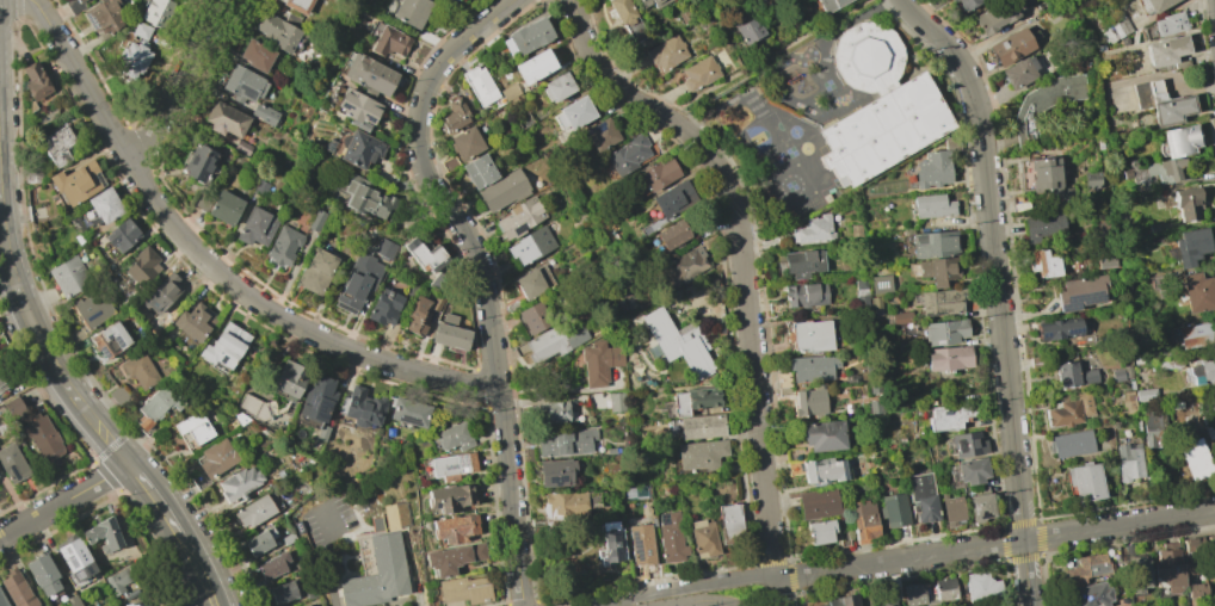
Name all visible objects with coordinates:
building: (449, 0)
building: (456, 0)
building: (78, 1)
building: (652, 2)
building: (968, 4)
building: (297, 5)
building: (829, 5)
building: (1152, 5)
building: (411, 11)
building: (156, 12)
building: (105, 16)
building: (994, 16)
rooftop solar panel: (91, 21)
building: (629, 21)
building: (1164, 26)
building: (746, 27)
building: (141, 30)
building: (1115, 30)
building: (276, 32)
building: (529, 36)
building: (388, 41)
building: (1010, 47)
road: (781, 51)
building: (1166, 51)
building: (666, 52)
building: (729, 52)
building: (255, 55)
building: (131, 57)
building: (534, 66)
building: (1019, 72)
building: (366, 73)
building: (699, 73)
road: (80, 80)
building: (35, 82)
road: (180, 84)
building: (243, 84)
building: (479, 85)
building: (557, 87)
building: (508, 91)
building: (1044, 103)
building: (1161, 103)
building: (876, 105)
rooftop solar panel: (344, 107)
building: (357, 109)
building: (264, 113)
building: (452, 115)
building: (571, 117)
building: (226, 119)
rooftop solar panel: (368, 120)
building: (599, 134)
building: (1177, 141)
building: (464, 143)
building: (949, 143)
building: (57, 146)
building: (241, 147)
building: (352, 147)
building: (628, 154)
building: (197, 162)
building: (449, 163)
building: (932, 168)
building: (479, 171)
building: (1155, 171)
building: (658, 173)
building: (1038, 173)
rooftop solar panel: (99, 180)
building: (1092, 180)
building: (76, 181)
road: (433, 184)
building: (259, 190)
building: (504, 190)
building: (365, 197)
building: (673, 198)
building: (1186, 202)
building: (104, 205)
building: (218, 205)
building: (932, 206)
building: (519, 217)
building: (316, 221)
building: (1042, 225)
building: (255, 227)
building: (1157, 227)
building: (814, 229)
building: (671, 234)
building: (121, 235)
building: (709, 241)
building: (935, 243)
building: (530, 245)
building: (1190, 246)
building: (283, 247)
building: (384, 248)
building: (424, 254)
road: (741, 256)
building: (687, 262)
building: (803, 262)
building: (1106, 262)
building: (1043, 265)
building: (140, 266)
building: (938, 271)
building: (315, 272)
building: (69, 276)
building: (532, 282)
building: (358, 283)
building: (440, 283)
building: (880, 284)
road: (997, 290)
building: (1079, 291)
building: (162, 292)
building: (861, 292)
building: (1196, 292)
building: (806, 295)
rooftop solar panel: (1085, 299)
building: (942, 302)
building: (874, 305)
building: (512, 307)
building: (384, 308)
building: (91, 310)
building: (420, 314)
building: (534, 316)
building: (901, 317)
building: (193, 321)
road: (288, 321)
building: (1059, 329)
building: (944, 332)
building: (449, 333)
building: (1196, 334)
building: (808, 335)
building: (109, 341)
building: (553, 341)
building: (677, 342)
building: (224, 346)
road: (43, 347)
building: (948, 358)
building: (599, 361)
building: (812, 367)
building: (140, 371)
building: (1127, 371)
building: (1201, 372)
building: (1072, 375)
building: (1116, 375)
building: (4, 379)
building: (288, 381)
building: (784, 384)
building: (874, 388)
building: (1145, 395)
building: (316, 397)
building: (695, 398)
building: (616, 401)
building: (1128, 402)
building: (809, 403)
building: (156, 406)
building: (12, 407)
building: (257, 407)
building: (874, 407)
building: (362, 408)
building: (1068, 410)
building: (408, 412)
building: (556, 413)
building: (949, 418)
building: (701, 426)
building: (1151, 426)
building: (193, 428)
building: (321, 432)
building: (822, 435)
building: (42, 437)
building: (455, 437)
building: (567, 443)
building: (968, 444)
building: (1071, 444)
building: (701, 453)
building: (217, 458)
building: (1195, 459)
rooftop solar panel: (464, 460)
building: (1128, 462)
building: (12, 463)
building: (451, 466)
rooftop solar panel: (450, 469)
building: (822, 470)
building: (969, 470)
building: (555, 472)
rooftop solar panel: (559, 480)
building: (1085, 481)
building: (239, 483)
building: (450, 497)
building: (921, 497)
road: (156, 500)
road: (512, 500)
road: (64, 501)
rooftop solar panel: (457, 501)
building: (571, 502)
building: (816, 502)
building: (979, 507)
rooftop solar panel: (436, 509)
building: (893, 509)
building: (951, 511)
building: (254, 512)
building: (395, 514)
parking lot: (326, 520)
building: (863, 520)
building: (729, 524)
building: (455, 527)
building: (819, 531)
building: (103, 534)
building: (288, 538)
building: (702, 538)
building: (671, 539)
building: (843, 539)
building: (260, 540)
building: (641, 542)
road: (183, 543)
building: (609, 543)
road: (995, 544)
building: (1194, 544)
road: (327, 555)
building: (363, 556)
building: (452, 558)
building: (75, 562)
building: (272, 565)
building: (1167, 567)
building: (1085, 569)
building: (1134, 570)
road: (210, 574)
building: (43, 575)
building: (376, 575)
road: (191, 579)
building: (119, 580)
road: (693, 586)
building: (981, 586)
building: (944, 589)
building: (1196, 589)
building: (17, 590)
building: (464, 590)
building: (282, 592)
road: (781, 592)
building: (312, 594)
building: (913, 594)
building: (1088, 594)
building: (73, 600)
building: (2, 601)
road: (703, 601)
building: (838, 601)
building: (888, 601)
building: (138, 604)
building: (1213, 604)
building: (304, 605)
building: (1203, 605)

